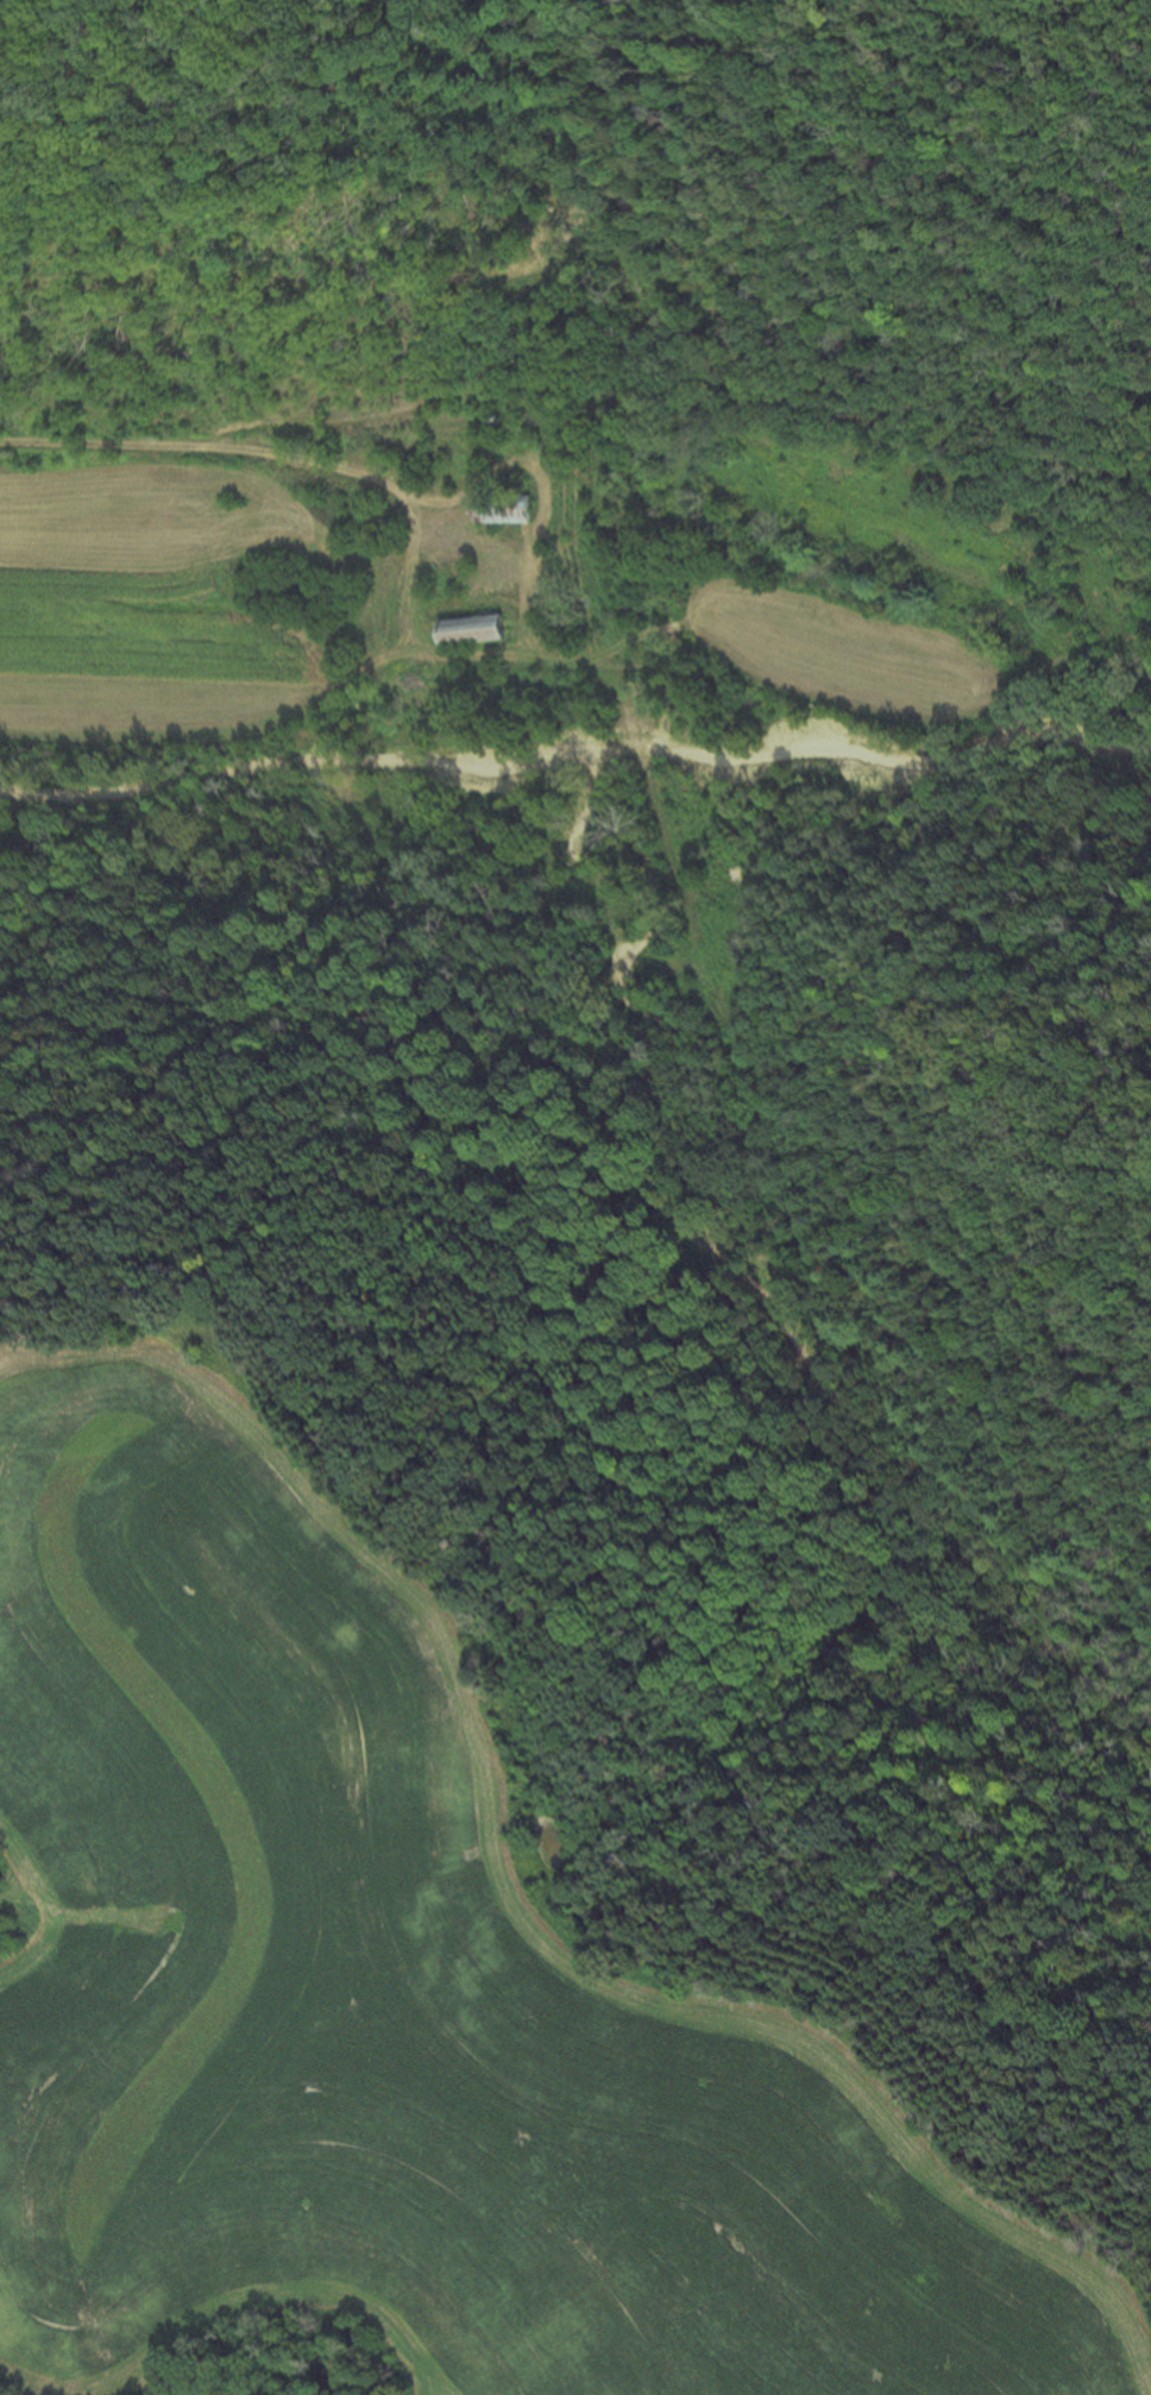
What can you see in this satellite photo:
road: (226, 440)
road: (226, 730)

